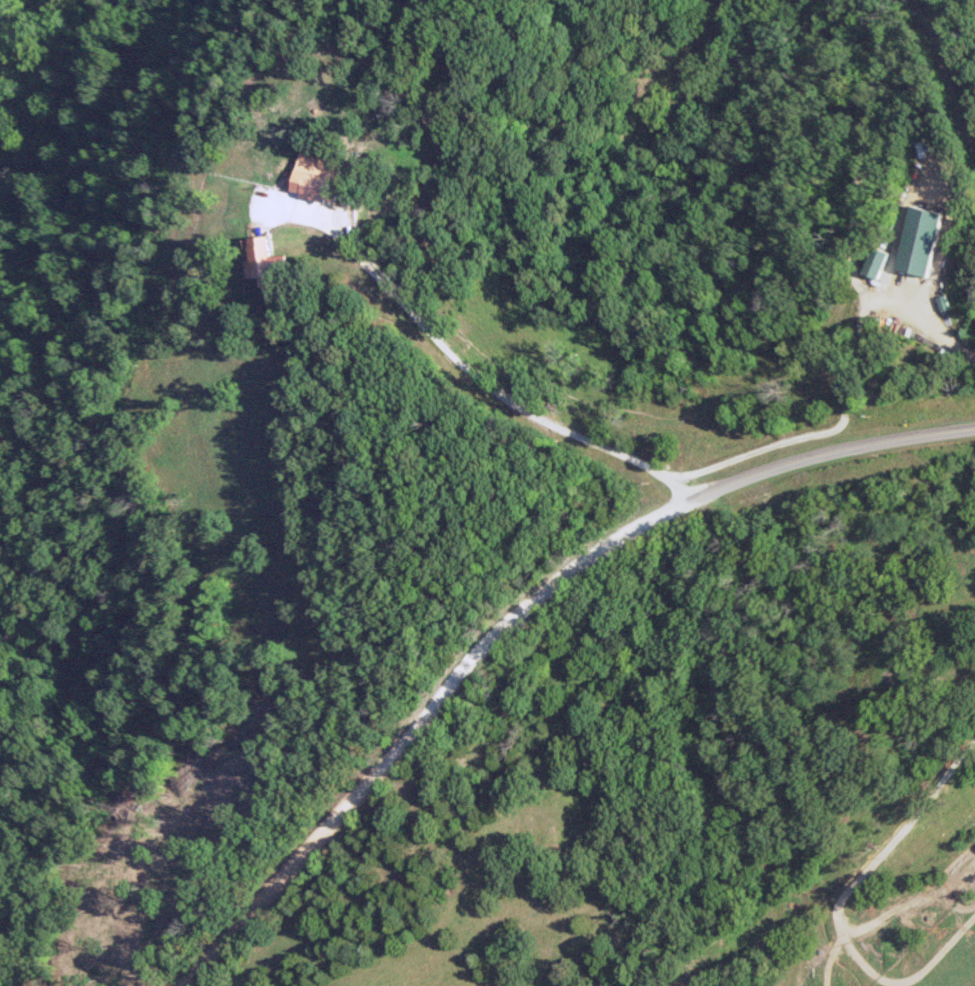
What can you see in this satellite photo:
road: (908, 141)
building: (312, 181)
building: (918, 240)
building: (260, 258)
building: (875, 262)
building: (942, 303)
road: (493, 388)
road: (816, 436)
road: (826, 452)
road: (414, 724)

